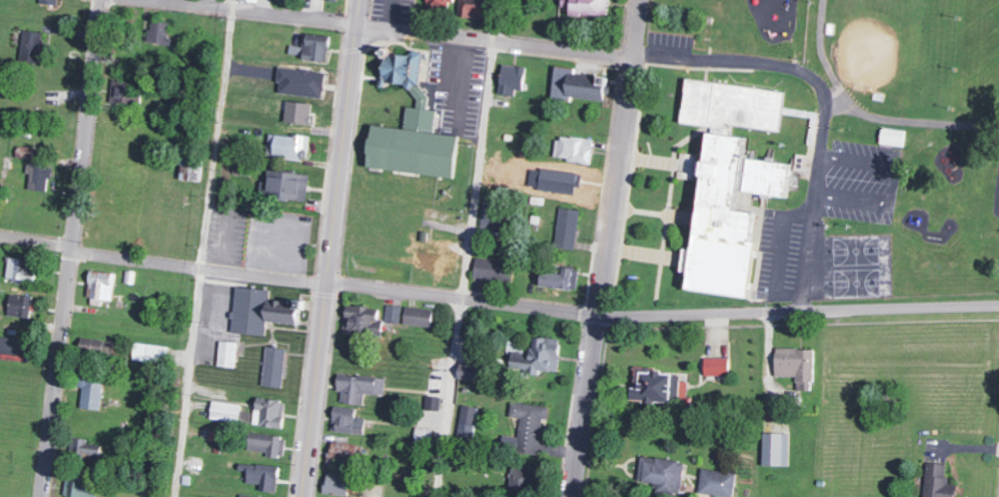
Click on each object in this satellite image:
building: (251, 0)
building: (338, 0)
building: (52, 2)
building: (474, 8)
building: (588, 8)
road: (258, 12)
building: (160, 32)
road: (495, 44)
building: (31, 46)
building: (314, 47)
building: (513, 79)
building: (303, 82)
building: (580, 85)
building: (125, 89)
building: (300, 113)
building: (414, 127)
building: (894, 136)
building: (293, 147)
building: (575, 149)
building: (26, 152)
building: (192, 169)
building: (40, 176)
building: (559, 181)
building: (731, 182)
building: (290, 185)
building: (493, 213)
building: (568, 228)
road: (71, 248)
road: (202, 248)
road: (332, 248)
road: (468, 248)
road: (608, 248)
building: (21, 269)
building: (495, 271)
building: (562, 279)
road: (299, 280)
building: (102, 287)
building: (20, 306)
road: (798, 310)
building: (261, 311)
building: (395, 313)
building: (420, 316)
building: (364, 321)
building: (15, 349)
building: (99, 349)
building: (152, 353)
building: (229, 354)
building: (539, 357)
building: (718, 366)
building: (798, 366)
building: (275, 367)
building: (471, 376)
building: (654, 385)
building: (360, 387)
building: (93, 391)
building: (434, 403)
building: (227, 411)
building: (271, 413)
building: (349, 420)
building: (468, 422)
building: (531, 425)
building: (269, 444)
building: (778, 448)
building: (345, 454)
building: (664, 472)
building: (264, 476)
building: (522, 480)
building: (940, 480)
building: (719, 481)
building: (338, 484)
building: (81, 488)
building: (251, 496)

